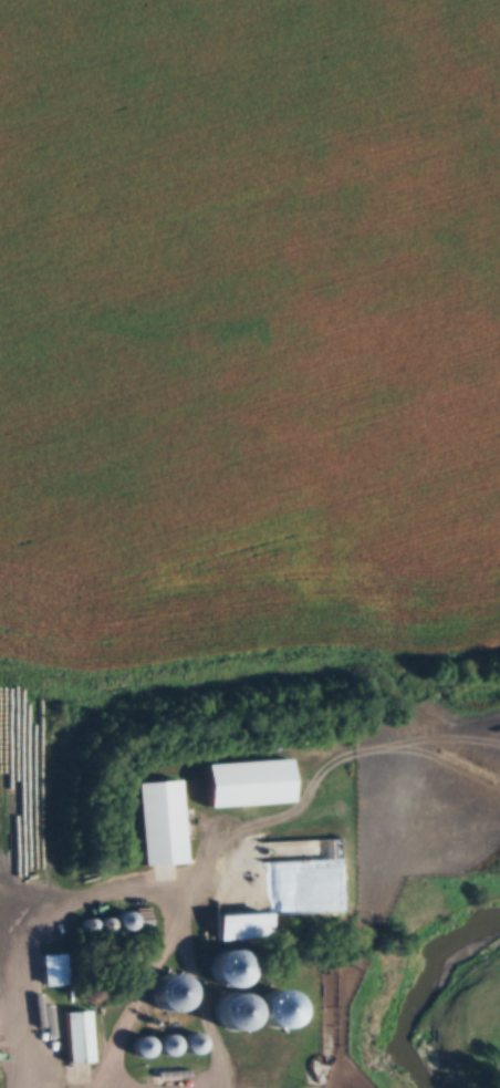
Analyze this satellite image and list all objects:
building: (247, 786)
building: (160, 826)
road: (65, 901)
building: (228, 972)
road: (126, 998)
road: (190, 1004)
building: (273, 1011)
building: (235, 1016)
building: (77, 1039)
road: (4, 1047)

